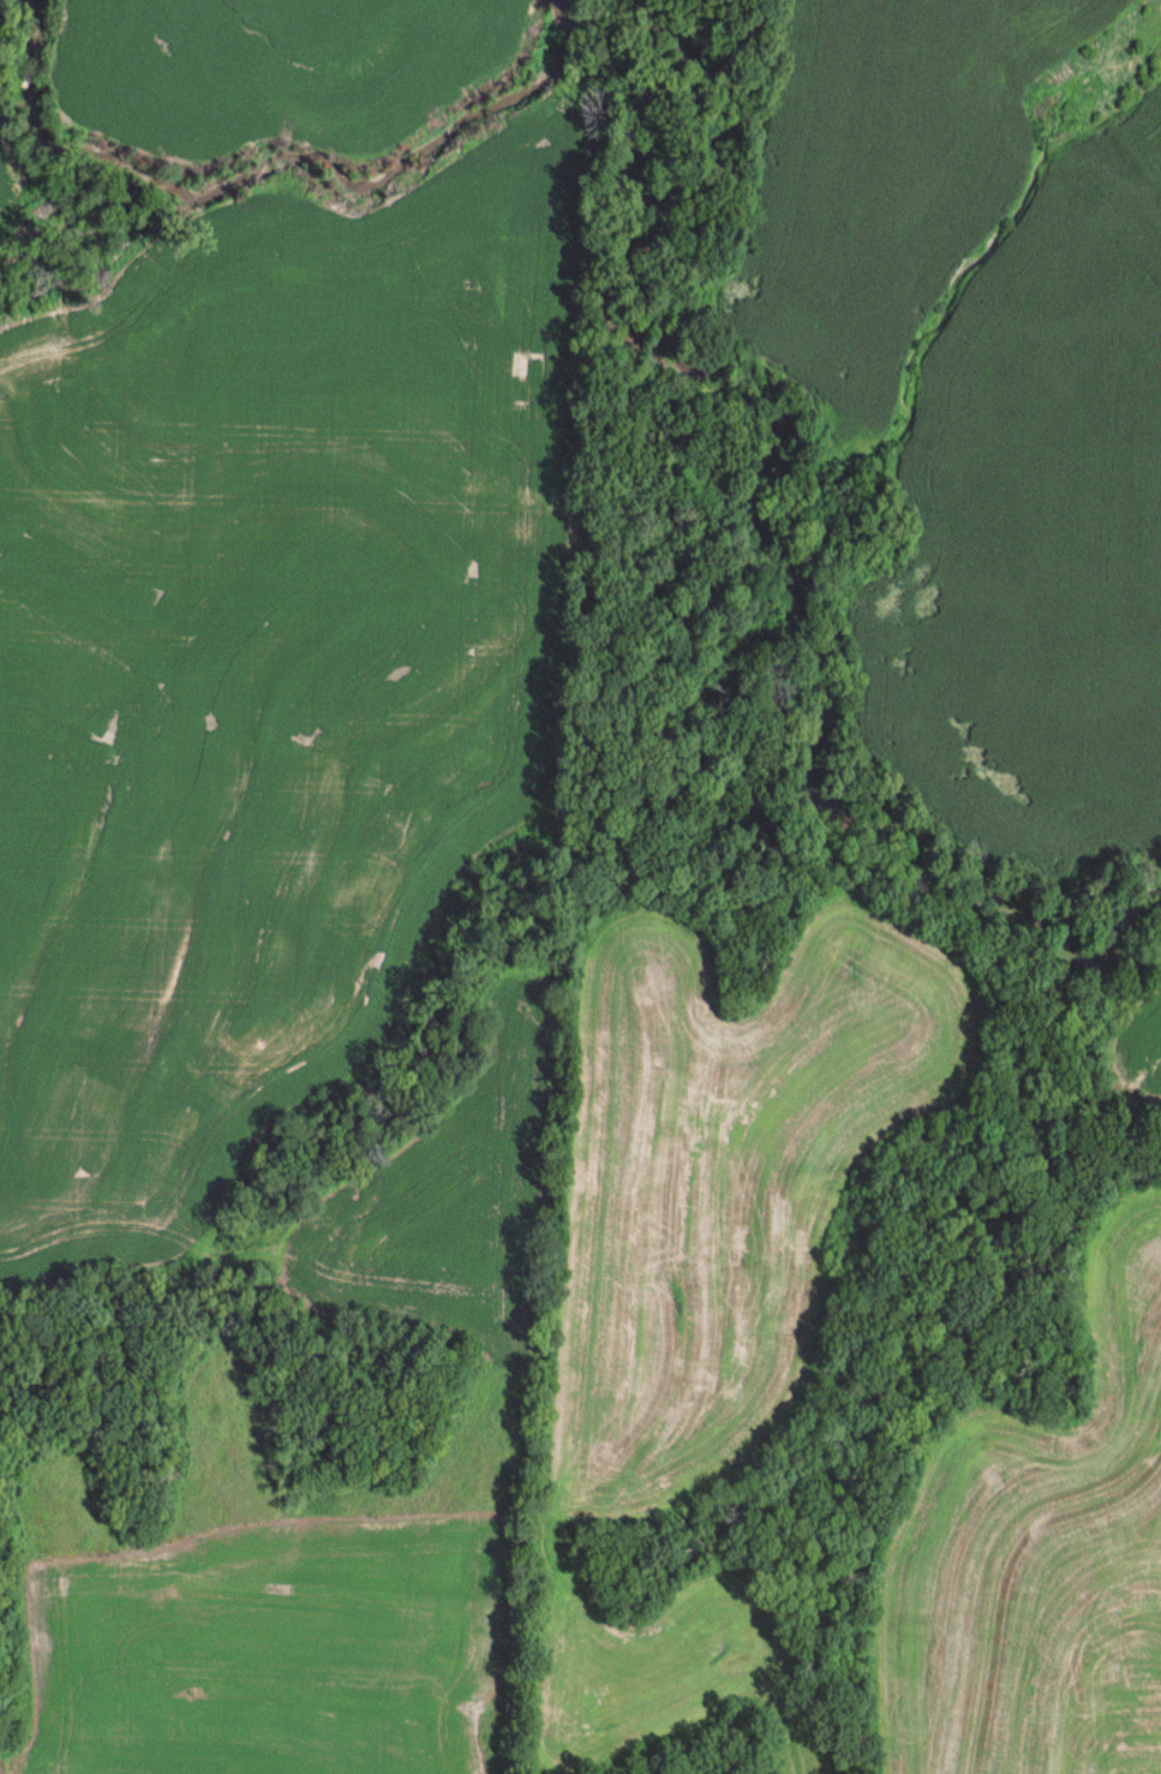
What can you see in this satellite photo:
road: (83, 1226)

